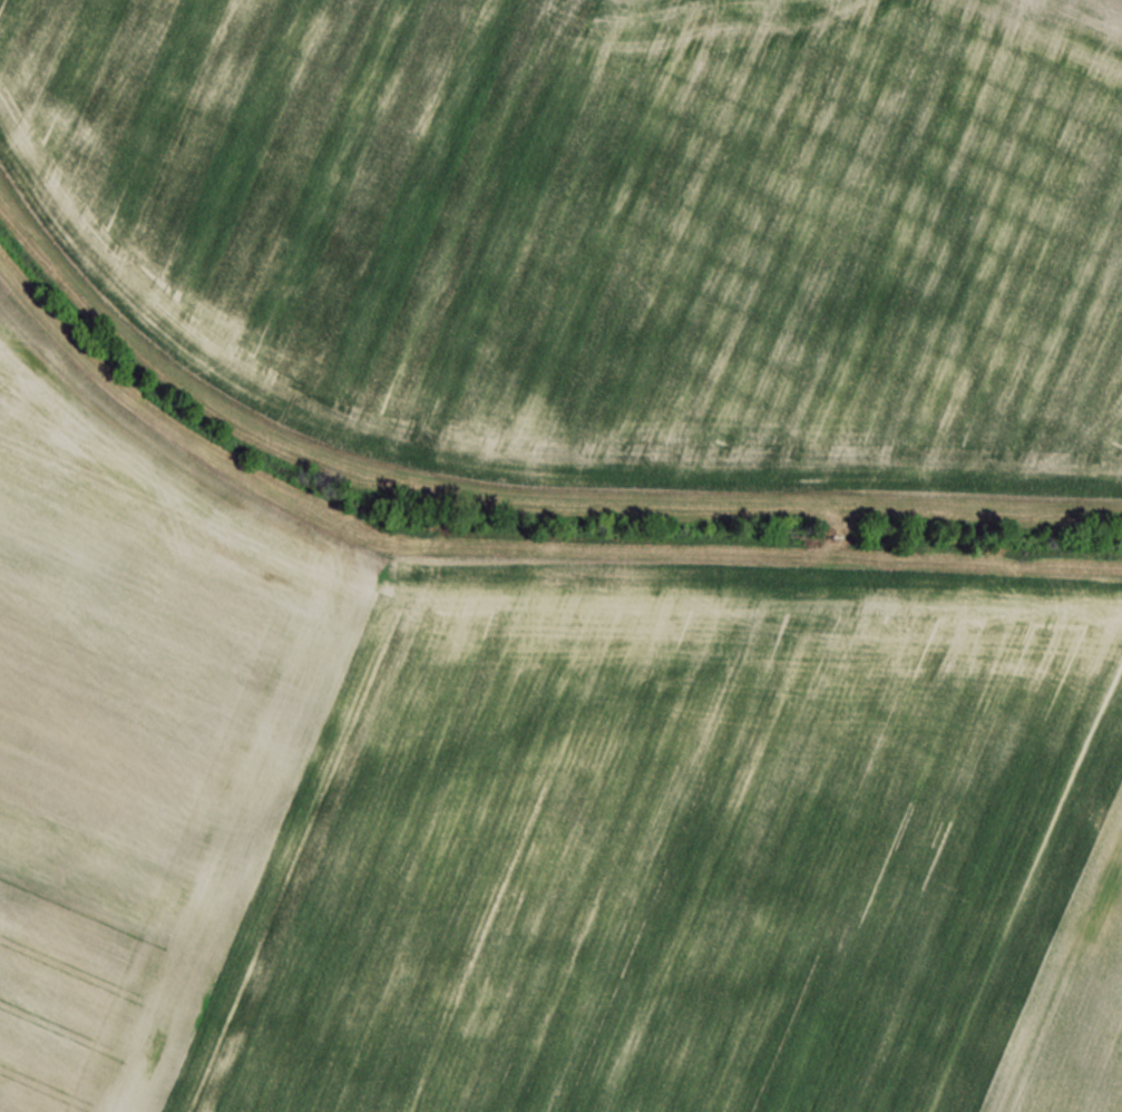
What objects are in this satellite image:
crop: (277, 150)
crop: (799, 236)
building: (50, 255)
crop: (518, 816)

